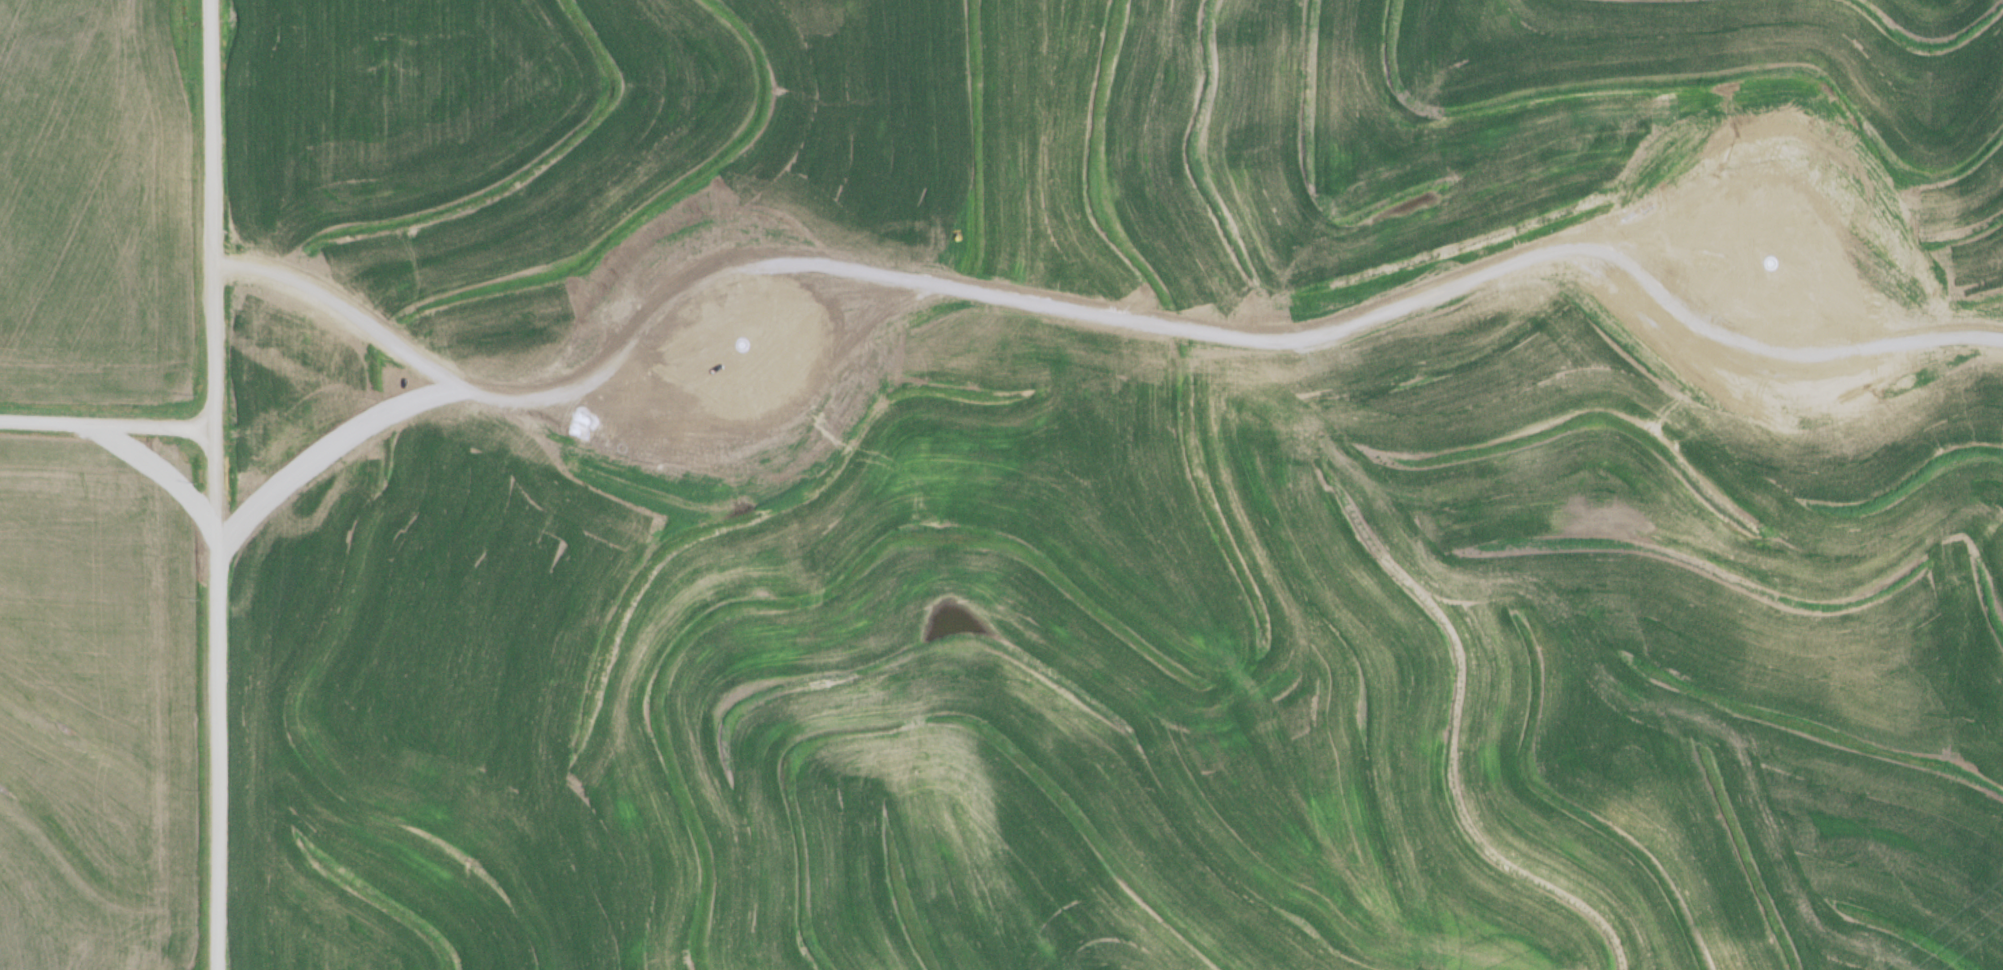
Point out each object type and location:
wind turbine: (1760, 263)
wind turbine: (736, 343)
road: (97, 445)
road: (194, 484)

